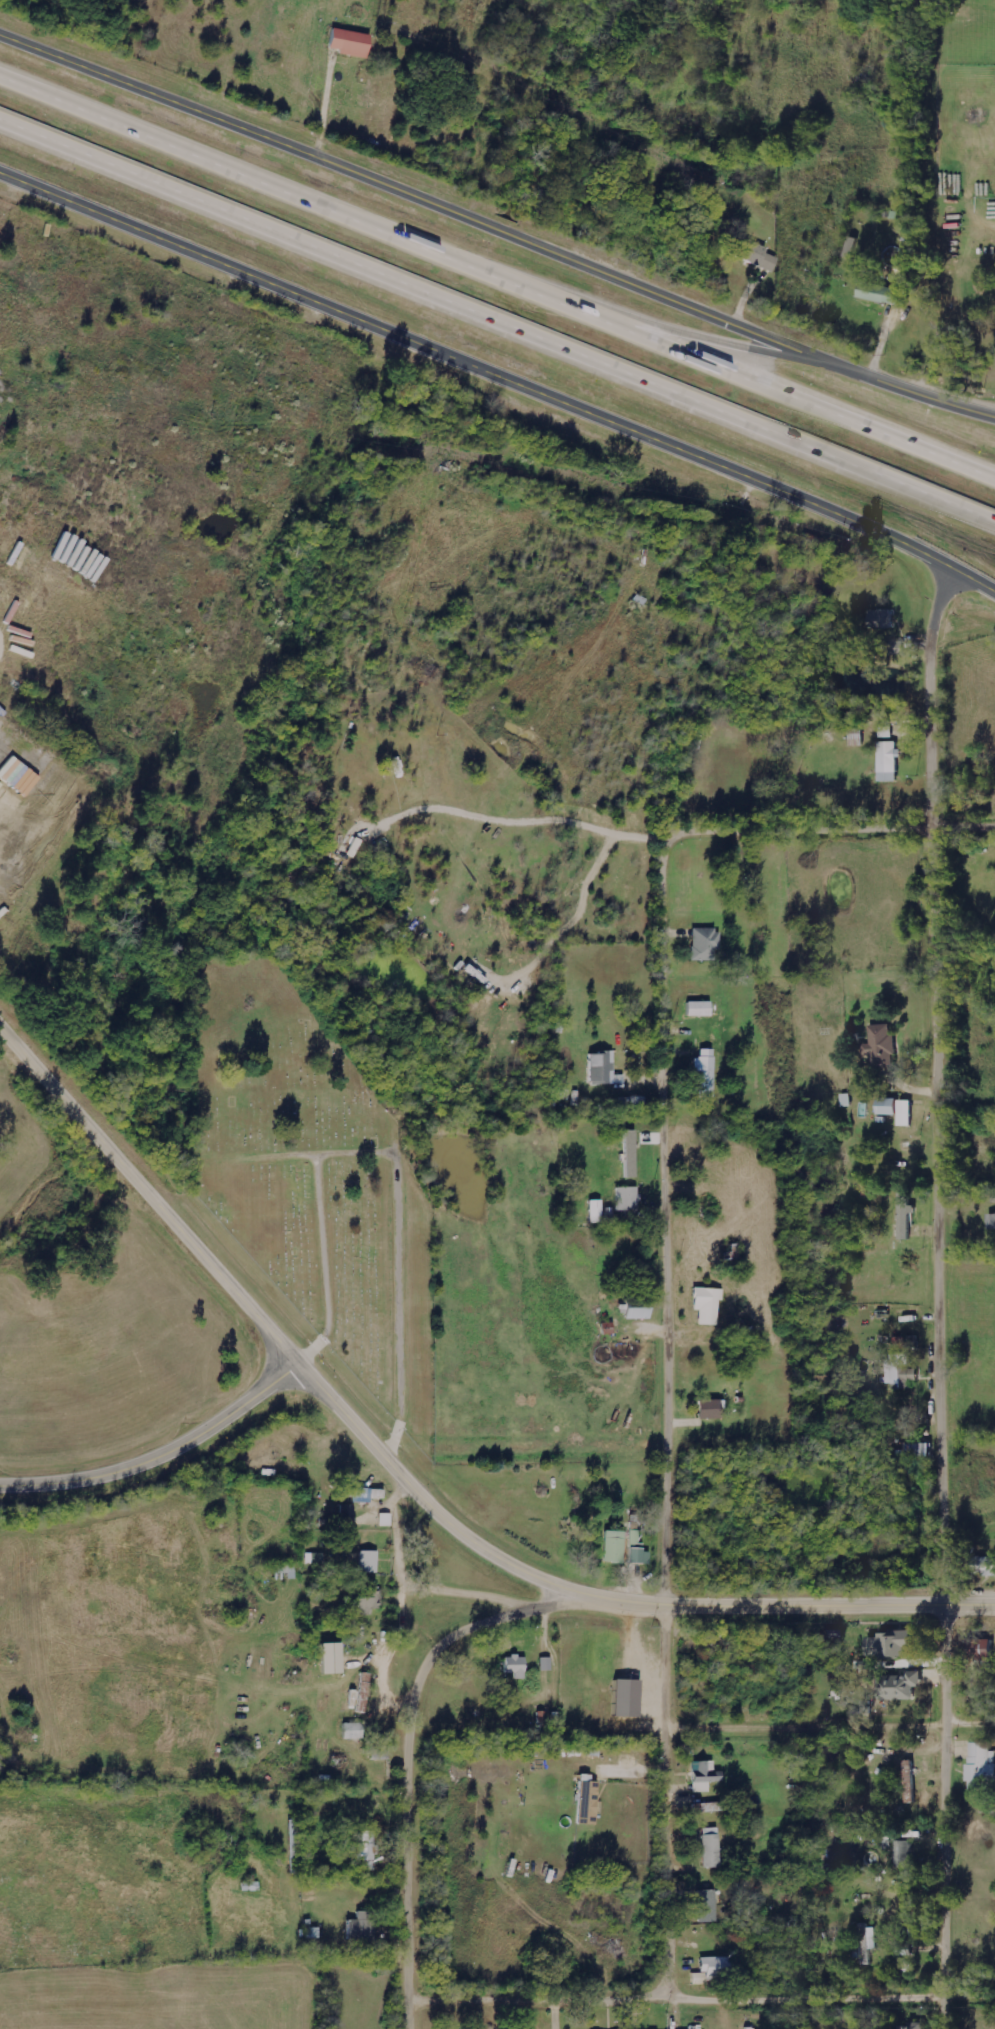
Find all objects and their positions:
building: (352, 43)
road: (425, 200)
building: (850, 251)
building: (753, 253)
road: (499, 269)
building: (881, 294)
road: (497, 319)
road: (711, 338)
road: (500, 376)
road: (921, 395)
building: (881, 620)
building: (888, 763)
road: (833, 834)
building: (706, 944)
building: (701, 1009)
building: (882, 1046)
building: (602, 1067)
building: (704, 1075)
building: (631, 1103)
building: (889, 1107)
building: (905, 1114)
building: (631, 1154)
park: (312, 1179)
road: (150, 1197)
building: (628, 1198)
building: (596, 1212)
building: (906, 1216)
building: (991, 1223)
road: (945, 1298)
building: (708, 1305)
building: (901, 1368)
building: (712, 1409)
road: (663, 1415)
road: (162, 1461)
building: (365, 1493)
building: (374, 1504)
building: (348, 1517)
building: (635, 1539)
building: (615, 1547)
building: (640, 1556)
building: (370, 1562)
building: (982, 1563)
building: (286, 1572)
road: (603, 1600)
building: (369, 1601)
building: (892, 1645)
building: (979, 1650)
building: (333, 1658)
building: (546, 1664)
building: (516, 1667)
building: (901, 1688)
building: (365, 1693)
building: (629, 1698)
building: (354, 1731)
road: (832, 1731)
building: (982, 1766)
road: (420, 1769)
building: (705, 1776)
building: (588, 1803)
building: (712, 1848)
building: (368, 1850)
building: (902, 1855)
building: (707, 1907)
building: (363, 1928)
building: (868, 1938)
building: (712, 1970)
road: (706, 1993)
building: (913, 2027)

